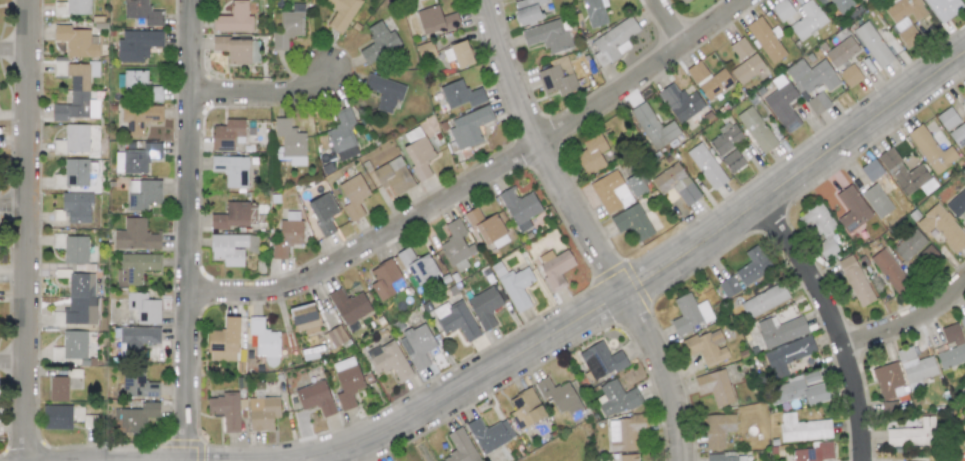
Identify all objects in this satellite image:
building: (683, 1)
building: (841, 5)
building: (72, 7)
building: (943, 8)
building: (527, 10)
building: (781, 10)
building: (142, 12)
building: (594, 12)
building: (341, 13)
building: (234, 18)
building: (808, 19)
building: (435, 20)
building: (905, 20)
road: (670, 21)
building: (547, 35)
building: (765, 39)
building: (76, 40)
building: (613, 41)
building: (378, 42)
building: (873, 44)
building: (137, 45)
road: (15, 48)
building: (233, 48)
building: (841, 51)
building: (254, 52)
building: (458, 54)
building: (744, 61)
building: (810, 75)
building: (850, 75)
building: (708, 80)
building: (555, 81)
building: (140, 85)
building: (75, 90)
road: (260, 91)
building: (384, 92)
building: (461, 94)
building: (680, 102)
building: (782, 103)
building: (139, 117)
building: (947, 119)
building: (653, 126)
building: (468, 127)
building: (756, 129)
building: (227, 134)
building: (958, 134)
building: (342, 135)
building: (289, 138)
building: (725, 138)
building: (72, 139)
road: (544, 149)
building: (931, 150)
building: (593, 154)
road: (823, 155)
building: (418, 156)
building: (136, 157)
building: (732, 161)
building: (706, 165)
building: (232, 169)
building: (871, 170)
building: (905, 173)
building: (72, 174)
building: (393, 176)
road: (480, 177)
building: (675, 183)
building: (634, 185)
building: (610, 192)
building: (143, 193)
building: (353, 196)
building: (876, 200)
building: (957, 203)
road: (15, 205)
building: (76, 207)
building: (519, 208)
building: (851, 209)
building: (322, 213)
building: (231, 216)
building: (816, 220)
building: (632, 222)
building: (942, 227)
building: (487, 228)
road: (30, 230)
road: (193, 230)
building: (287, 234)
building: (135, 235)
building: (455, 243)
building: (909, 245)
building: (72, 247)
building: (231, 248)
building: (827, 248)
building: (926, 256)
building: (135, 267)
building: (418, 267)
building: (554, 267)
building: (752, 267)
building: (890, 272)
road: (652, 273)
building: (384, 279)
building: (855, 280)
building: (728, 286)
building: (516, 287)
building: (763, 300)
building: (349, 305)
building: (484, 306)
building: (143, 307)
building: (689, 313)
road: (907, 317)
building: (304, 318)
building: (459, 320)
building: (962, 321)
road: (833, 324)
building: (782, 330)
building: (334, 336)
building: (137, 340)
building: (264, 340)
building: (223, 341)
building: (71, 346)
building: (417, 346)
building: (706, 347)
building: (951, 347)
building: (787, 355)
road: (15, 358)
building: (388, 359)
building: (601, 360)
building: (915, 367)
road: (666, 371)
building: (888, 380)
road: (465, 385)
building: (138, 386)
building: (714, 386)
building: (58, 388)
building: (800, 389)
building: (559, 396)
building: (315, 398)
building: (616, 398)
building: (225, 409)
building: (525, 409)
building: (262, 413)
building: (57, 417)
building: (134, 417)
building: (803, 428)
building: (717, 429)
building: (624, 432)
building: (489, 434)
building: (912, 434)
building: (460, 447)
building: (814, 452)
building: (725, 457)

